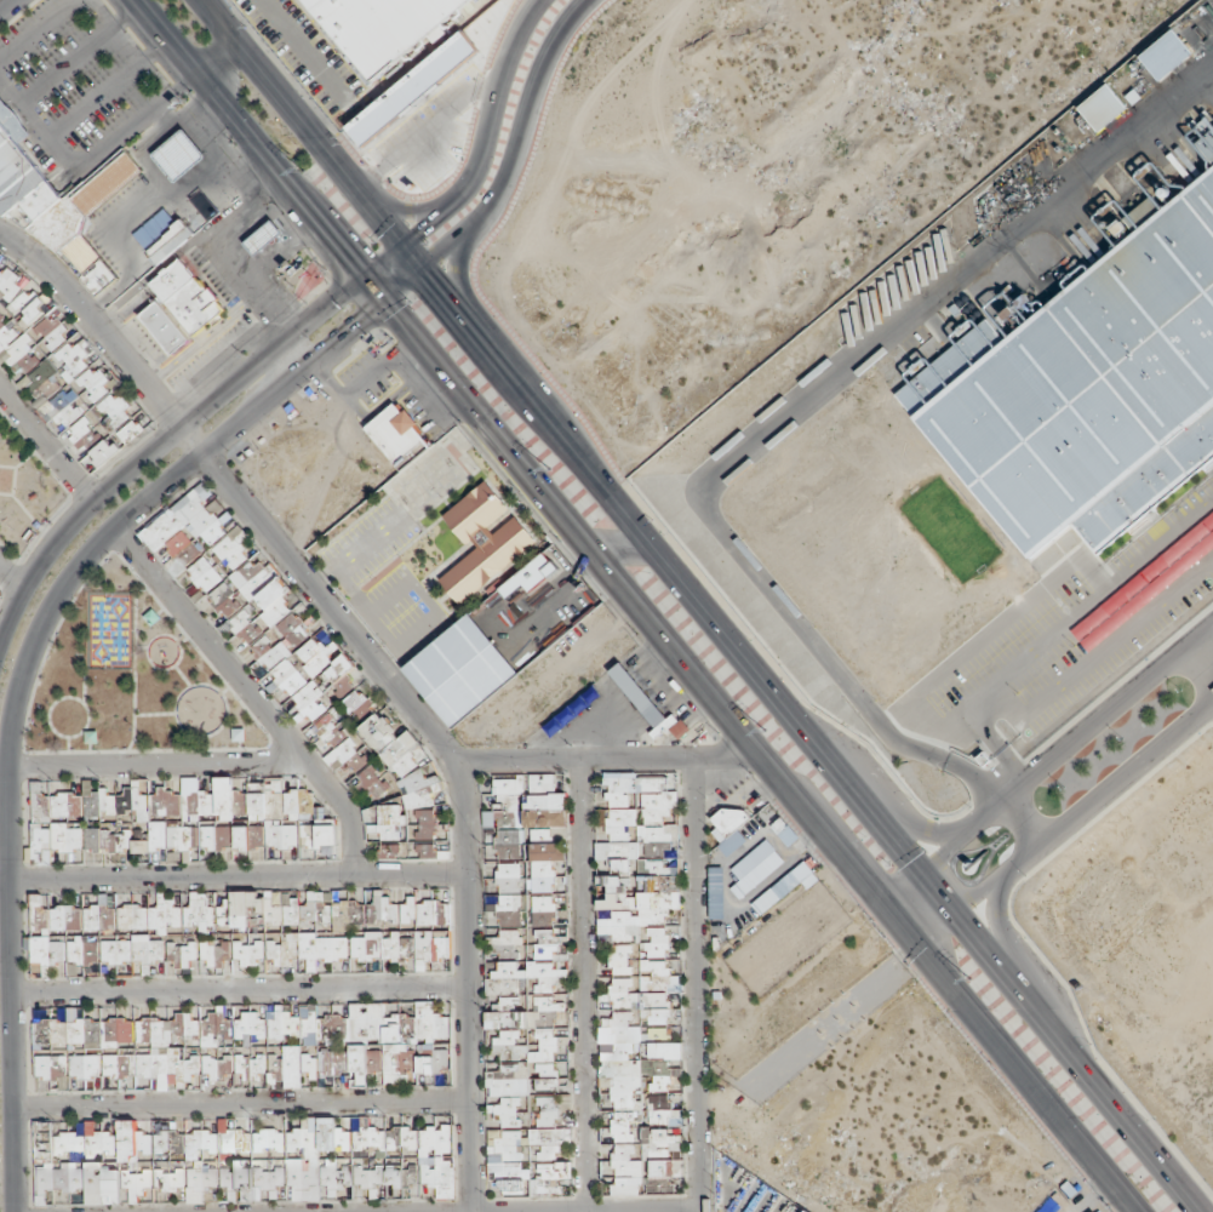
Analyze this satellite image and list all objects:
gas station: (176, 150)
gas station: (258, 230)
power tower: (366, 244)
power tower: (545, 467)
power tower: (762, 731)
power tower: (965, 974)

